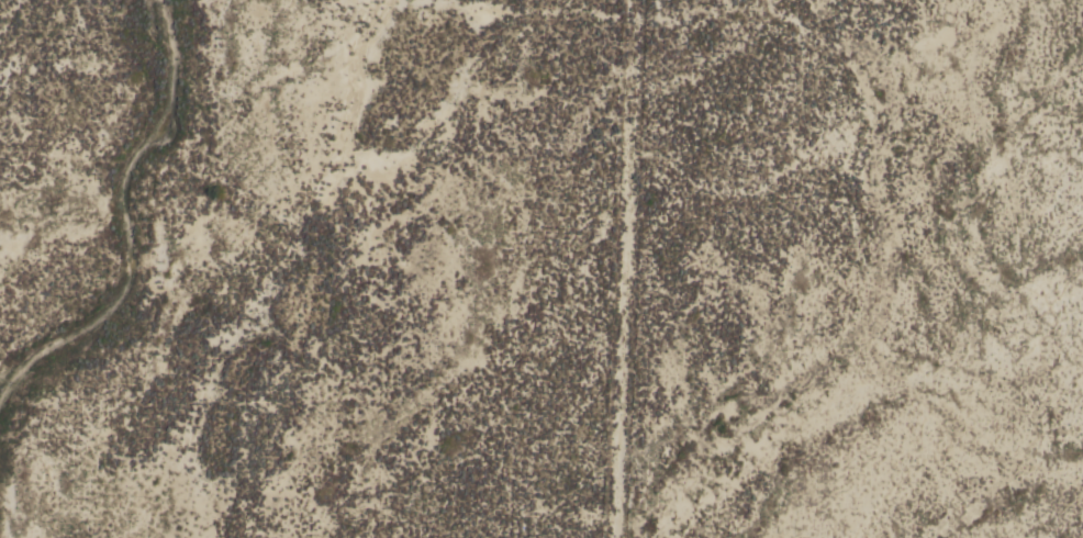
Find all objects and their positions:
railway: (1072, 22)
railway: (1065, 35)

